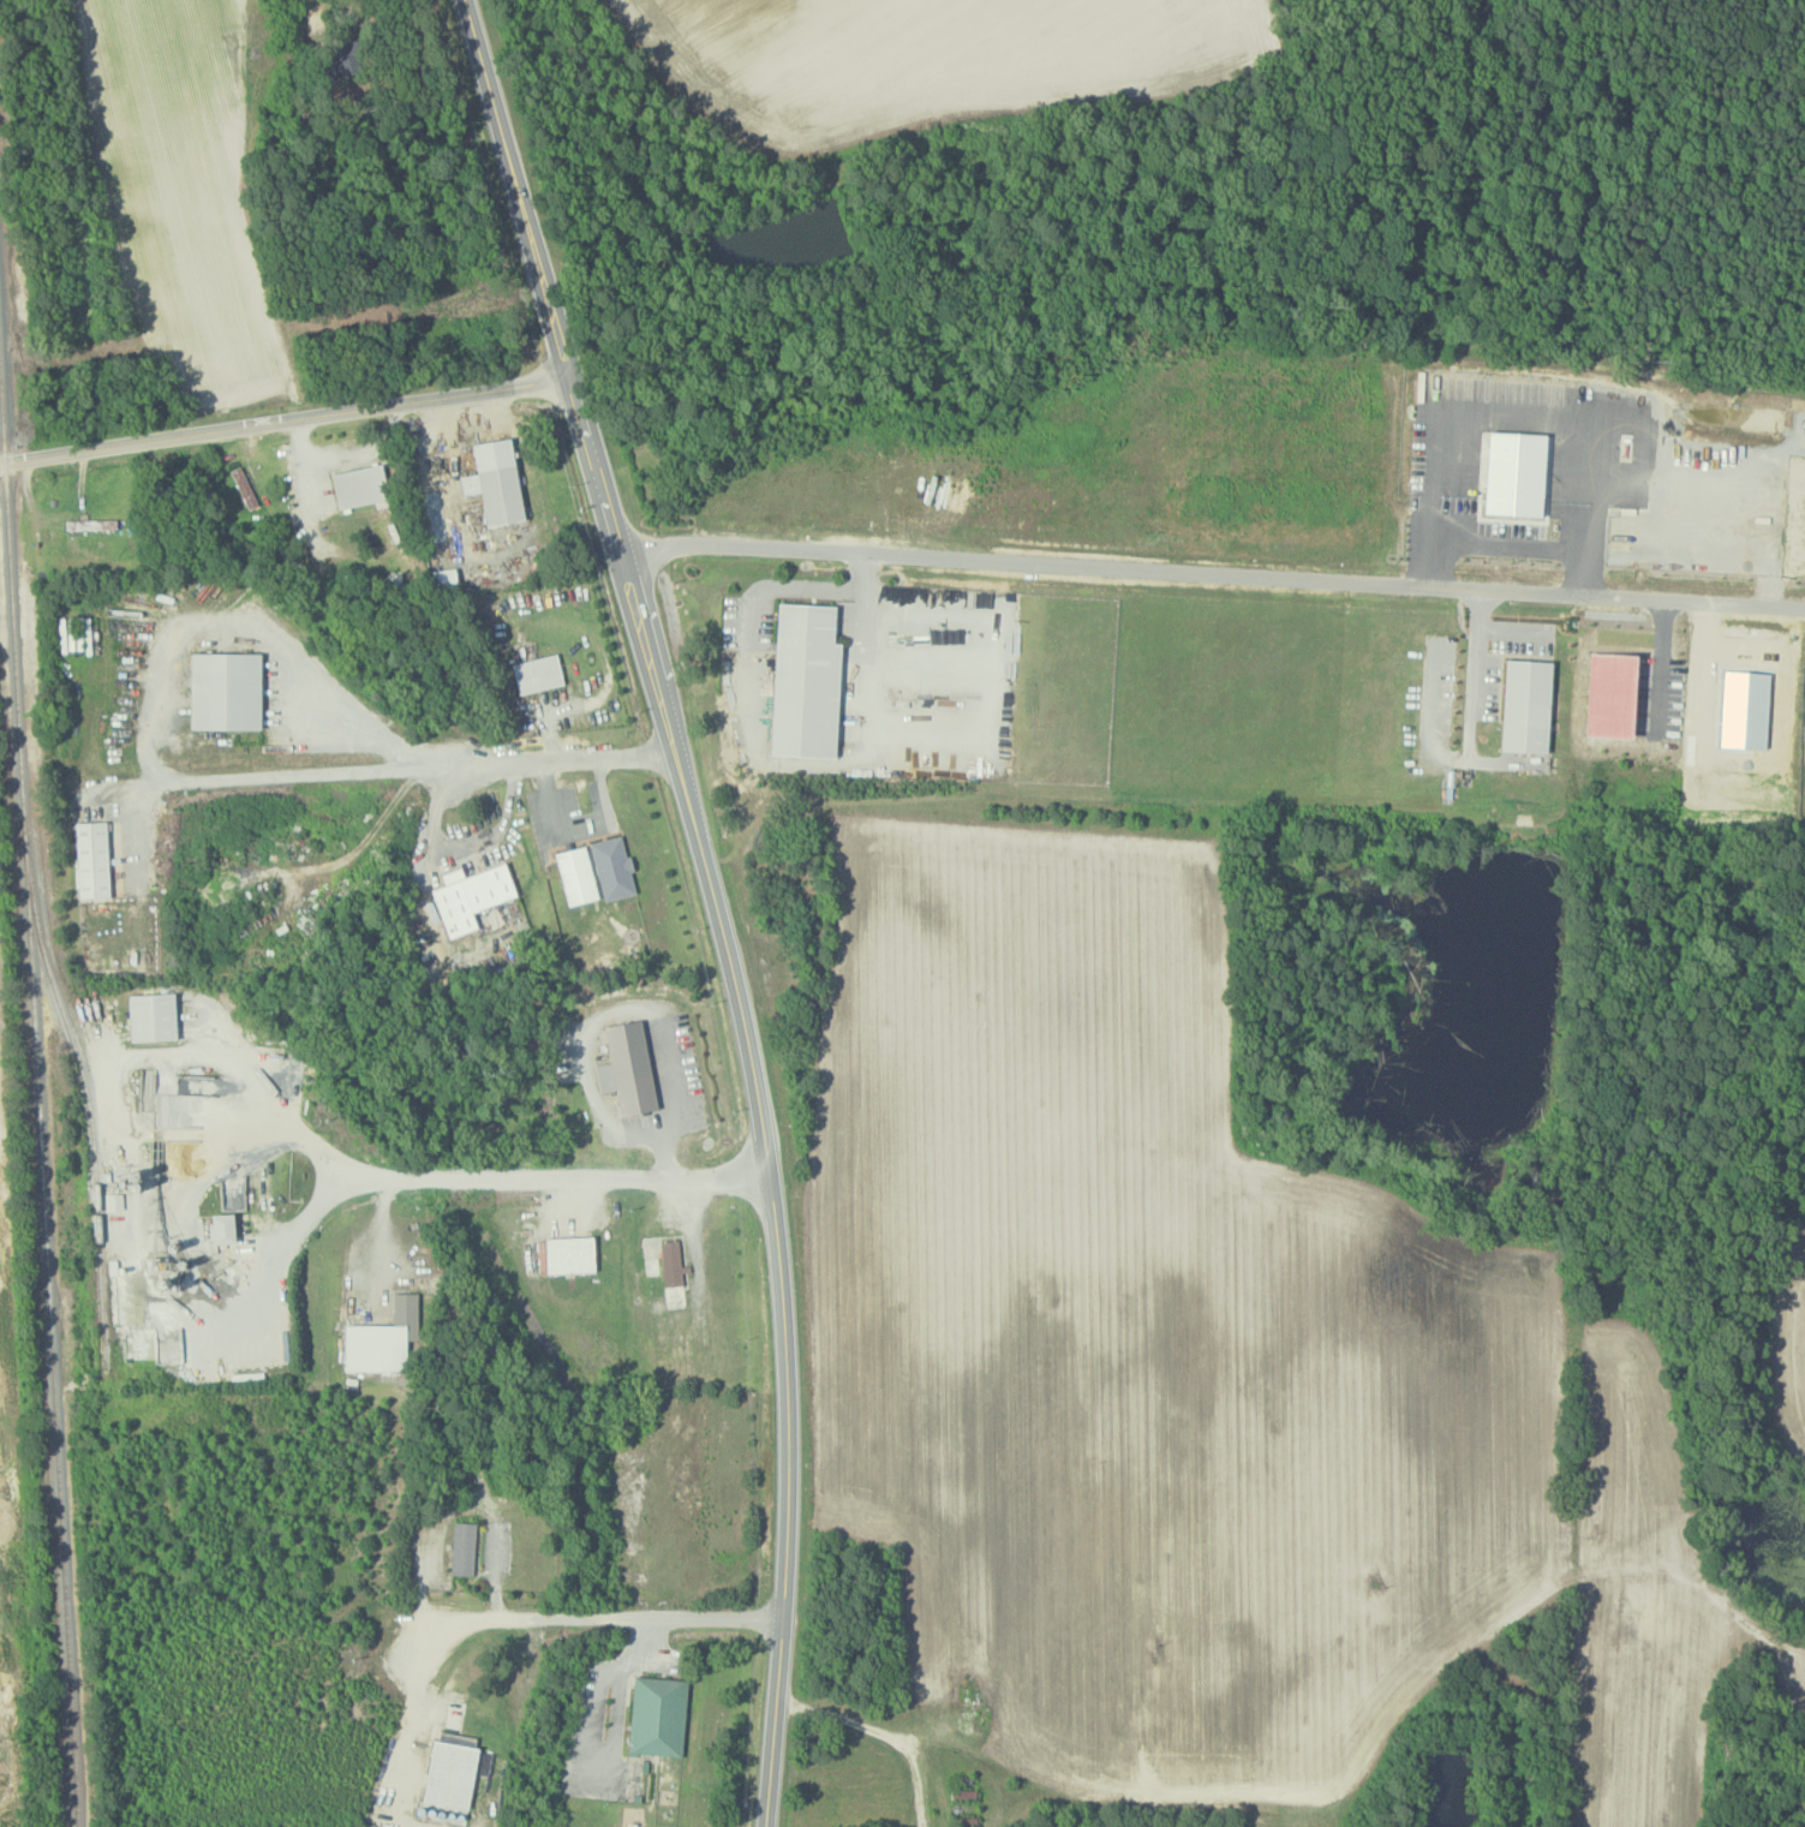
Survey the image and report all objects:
road: (311, 11)
road: (283, 419)
building: (495, 480)
building: (359, 485)
building: (244, 486)
road: (1511, 547)
road: (1211, 575)
building: (444, 578)
road: (784, 585)
road: (243, 626)
road: (1511, 633)
road: (866, 653)
road: (1661, 662)
building: (537, 673)
building: (802, 681)
building: (225, 689)
building: (1610, 693)
building: (1526, 704)
road: (1470, 705)
road: (405, 770)
road: (579, 828)
road: (464, 847)
building: (91, 859)
building: (612, 867)
building: (575, 874)
building: (470, 895)
road: (713, 900)
road: (622, 1008)
building: (151, 1016)
building: (627, 1068)
railway: (84, 1095)
railway: (41, 1109)
road: (289, 1124)
road: (558, 1178)
building: (221, 1228)
road: (693, 1231)
road: (293, 1234)
road: (378, 1241)
building: (569, 1254)
building: (651, 1266)
building: (673, 1270)
building: (382, 1338)
building: (462, 1548)
road: (596, 1618)
road: (617, 1686)
road: (411, 1713)
building: (657, 1716)
road: (880, 1732)

